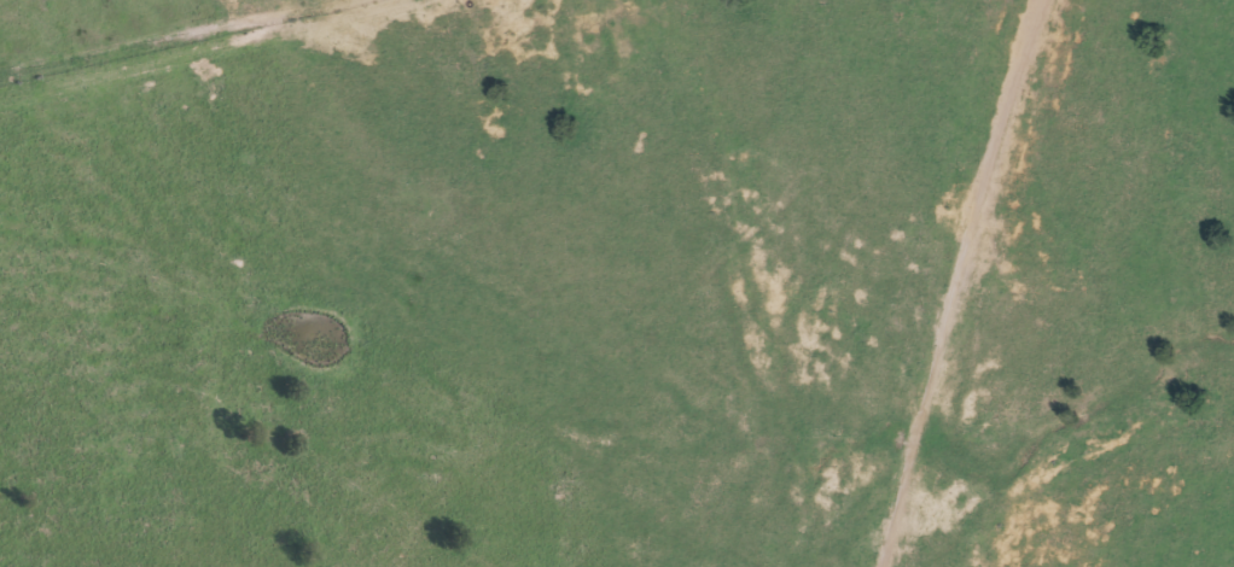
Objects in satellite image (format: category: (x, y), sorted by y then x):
road: (949, 282)

